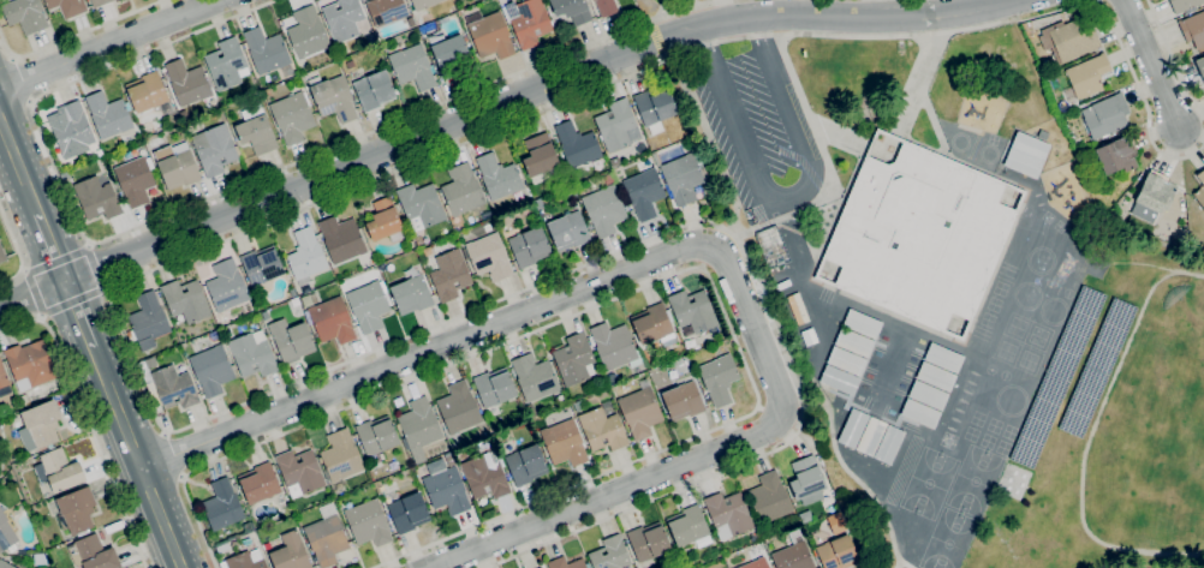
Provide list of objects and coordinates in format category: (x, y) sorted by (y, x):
building: (99, 2)
building: (421, 4)
building: (1184, 5)
building: (67, 7)
building: (606, 7)
park: (668, 8)
building: (571, 10)
building: (386, 11)
road: (696, 13)
building: (25, 14)
building: (342, 19)
building: (530, 23)
building: (1193, 29)
building: (308, 32)
road: (74, 34)
building: (488, 34)
road: (656, 38)
building: (1068, 40)
road: (108, 44)
building: (266, 50)
building: (449, 54)
road: (1172, 59)
building: (226, 64)
building: (351, 64)
road: (1152, 64)
building: (412, 66)
building: (1199, 67)
road: (23, 77)
building: (1086, 77)
building: (187, 82)
building: (374, 90)
building: (147, 91)
building: (333, 97)
road: (495, 106)
building: (655, 108)
building: (108, 114)
building: (1104, 115)
building: (292, 116)
road: (930, 119)
building: (615, 125)
parking lot: (757, 126)
building: (71, 128)
building: (255, 130)
road: (895, 132)
building: (1043, 134)
building: (577, 144)
building: (215, 149)
building: (1026, 154)
building: (540, 155)
building: (1117, 155)
building: (119, 157)
road: (954, 159)
road: (19, 166)
building: (177, 166)
road: (827, 167)
building: (497, 177)
building: (684, 177)
building: (136, 180)
building: (707, 189)
building: (1199, 189)
building: (463, 190)
building: (644, 192)
road: (783, 192)
building: (1152, 197)
building: (97, 198)
road: (205, 199)
building: (422, 205)
building: (603, 209)
building: (1102, 210)
building: (386, 221)
building: (568, 231)
building: (919, 235)
building: (341, 239)
road: (52, 246)
building: (529, 246)
building: (773, 246)
road: (690, 247)
road: (719, 250)
road: (17, 252)
building: (2, 255)
building: (306, 256)
building: (489, 256)
road: (56, 261)
road: (1148, 264)
building: (262, 265)
road: (703, 265)
road: (94, 268)
building: (449, 275)
road: (661, 277)
building: (227, 285)
building: (782, 285)
building: (293, 292)
road: (35, 293)
building: (411, 294)
building: (185, 300)
road: (72, 301)
building: (368, 305)
building: (798, 309)
building: (692, 310)
road: (78, 313)
road: (113, 315)
building: (148, 321)
building: (332, 321)
building: (654, 323)
building: (863, 323)
building: (687, 330)
building: (226, 331)
building: (215, 334)
building: (811, 335)
building: (806, 337)
building: (291, 339)
building: (854, 342)
building: (614, 346)
building: (252, 353)
building: (943, 357)
building: (574, 359)
building: (847, 361)
building: (30, 364)
building: (213, 369)
park: (989, 369)
park: (1003, 375)
building: (935, 376)
building: (535, 377)
building: (717, 379)
building: (839, 379)
building: (4, 382)
building: (173, 387)
building: (494, 387)
building: (928, 394)
building: (24, 400)
building: (683, 400)
building: (607, 405)
building: (578, 406)
building: (459, 407)
building: (531, 409)
building: (639, 411)
building: (920, 413)
park: (977, 418)
road: (87, 421)
building: (419, 423)
building: (40, 425)
park: (993, 425)
building: (853, 428)
building: (602, 429)
park: (1008, 431)
road: (166, 434)
park: (970, 434)
building: (376, 435)
building: (871, 436)
road: (1087, 436)
park: (987, 440)
building: (564, 442)
building: (889, 444)
park: (1001, 447)
road: (172, 455)
building: (341, 455)
road: (136, 458)
building: (449, 460)
building: (526, 465)
building: (59, 470)
building: (300, 472)
road: (853, 476)
road: (181, 477)
building: (484, 477)
building: (806, 479)
park: (973, 480)
building: (258, 483)
park: (928, 483)
building: (447, 490)
building: (769, 498)
building: (222, 506)
building: (76, 510)
building: (409, 512)
building: (729, 513)
building: (805, 516)
building: (368, 522)
building: (687, 526)
building: (6, 534)
building: (326, 536)
park: (947, 539)
building: (648, 542)
building: (266, 545)
building: (291, 552)
building: (838, 552)
building: (94, 554)
building: (610, 554)
building: (793, 554)
building: (40, 558)
building: (244, 561)
building: (566, 563)
building: (755, 563)
building: (5, 564)
road: (904, 564)
building: (540, 567)

